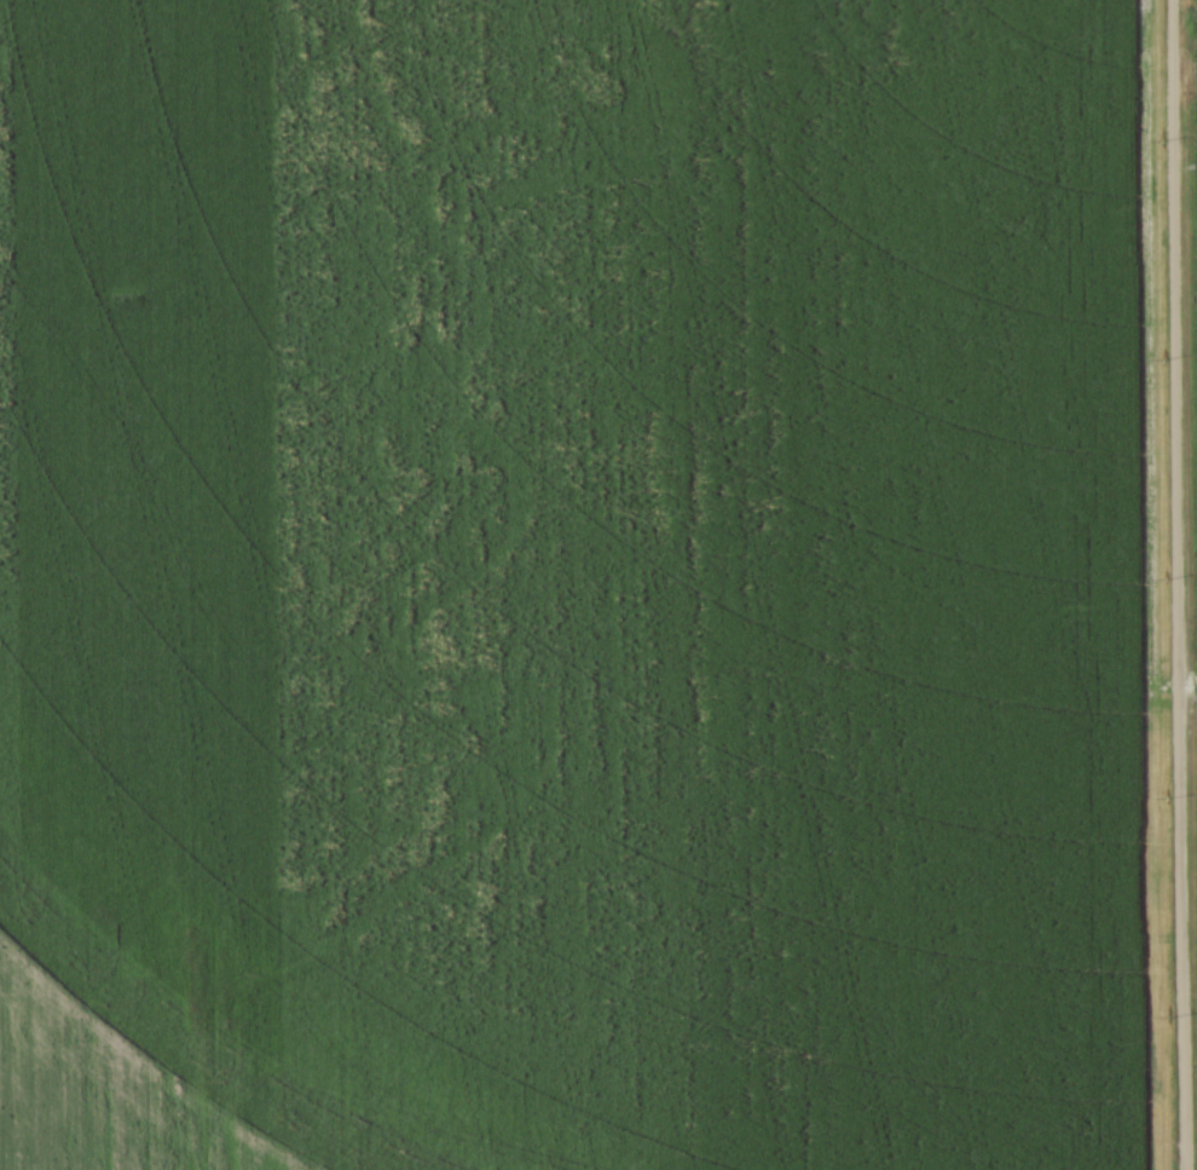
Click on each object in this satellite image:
crop: (1192, 323)
crop: (578, 584)
road: (1172, 584)

